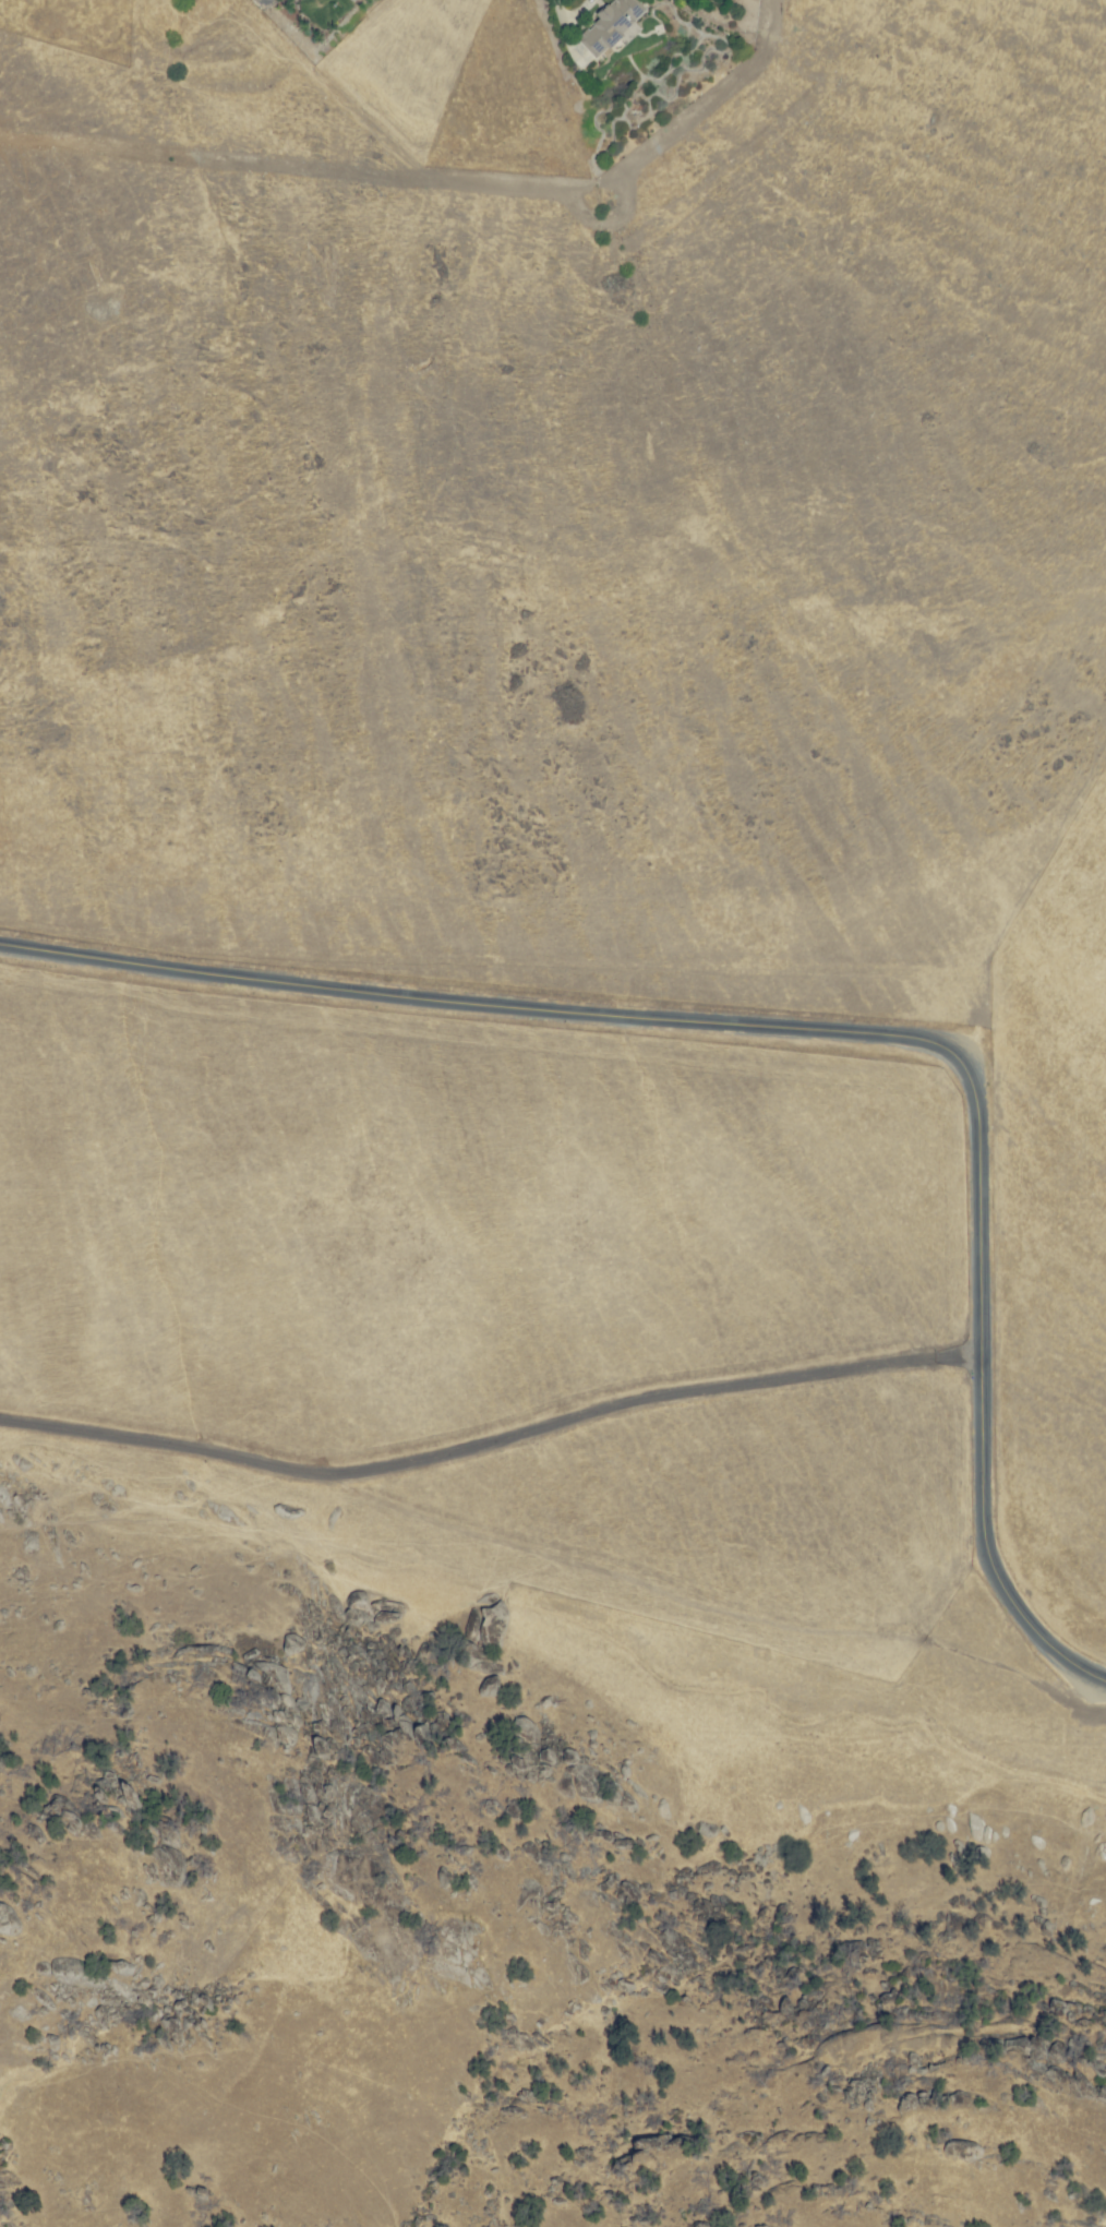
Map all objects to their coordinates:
road: (568, 16)
building: (612, 27)
road: (818, 1030)

